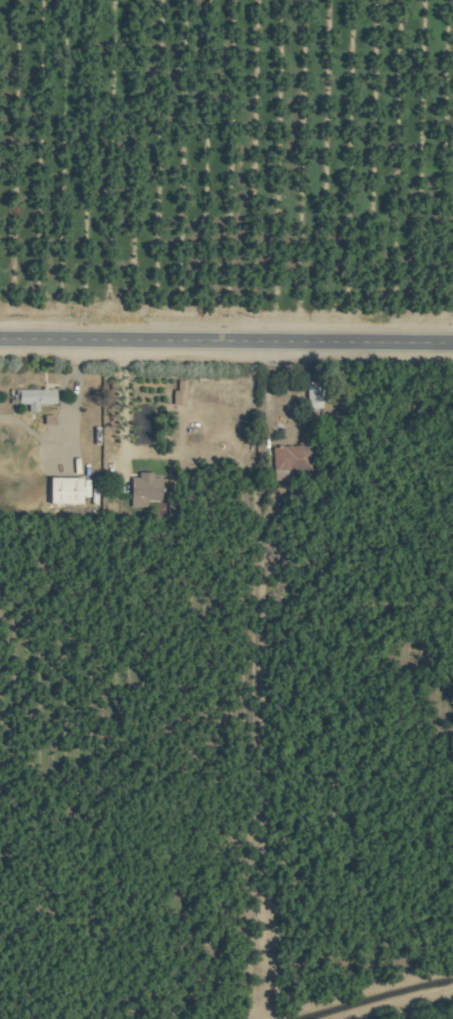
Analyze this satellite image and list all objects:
road: (226, 342)
building: (176, 394)
building: (33, 398)
road: (66, 421)
building: (290, 457)
building: (140, 490)
building: (63, 491)
crop: (226, 509)

